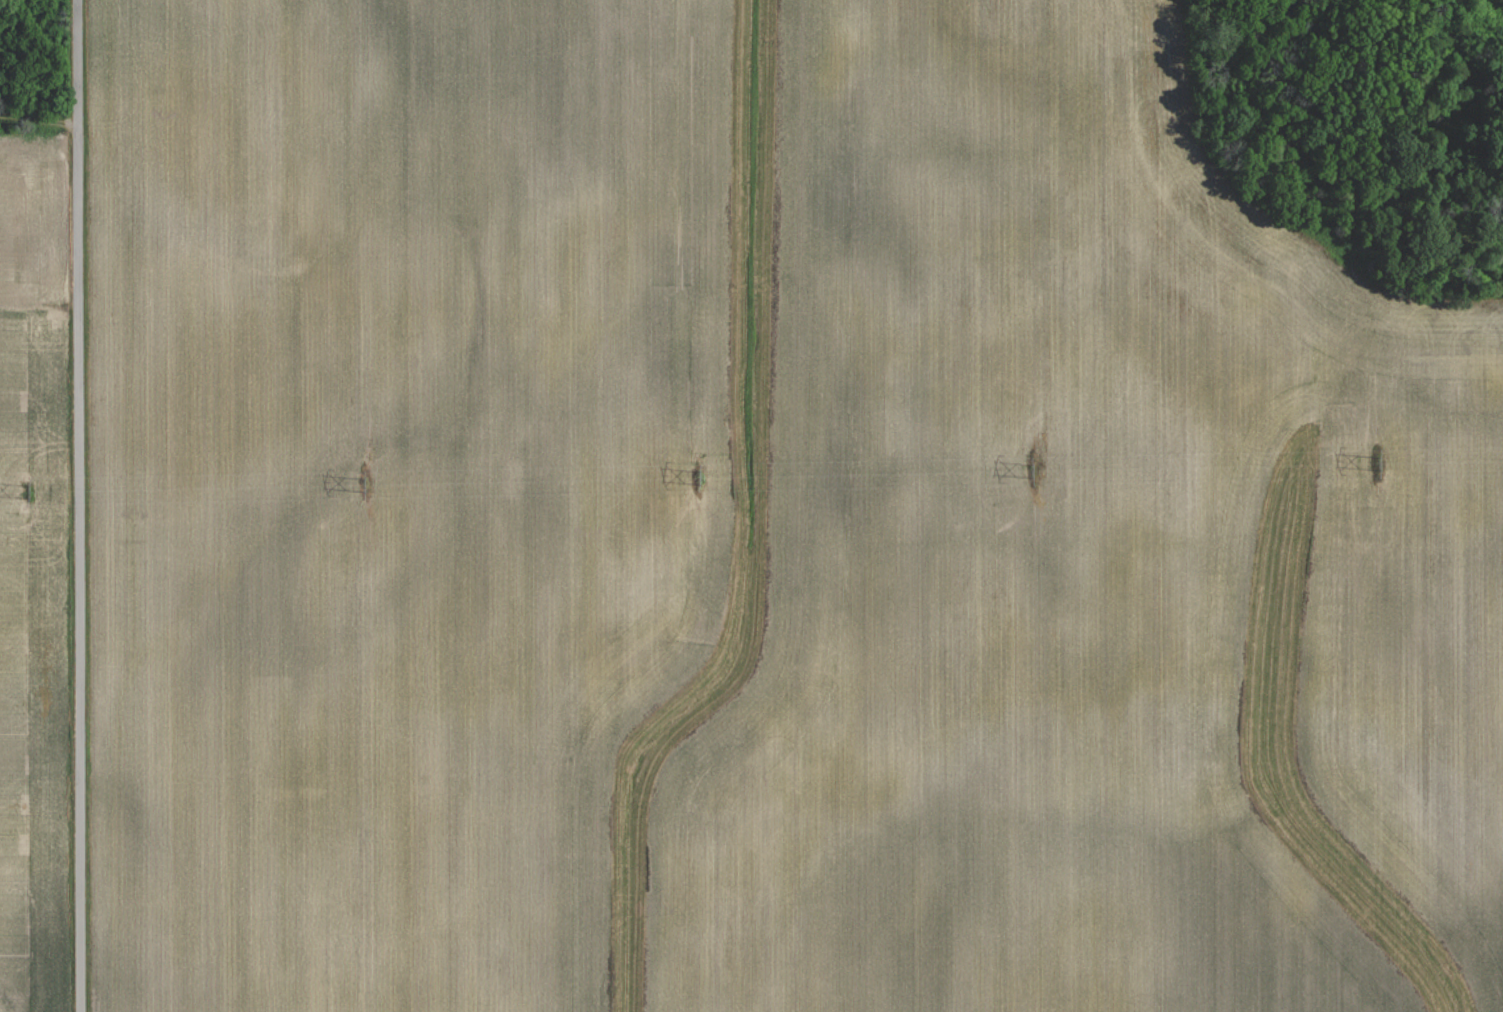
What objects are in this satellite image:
power tower: (1379, 462)
power tower: (1033, 471)
power tower: (698, 478)
power tower: (362, 484)
power tower: (28, 489)
road: (79, 506)

